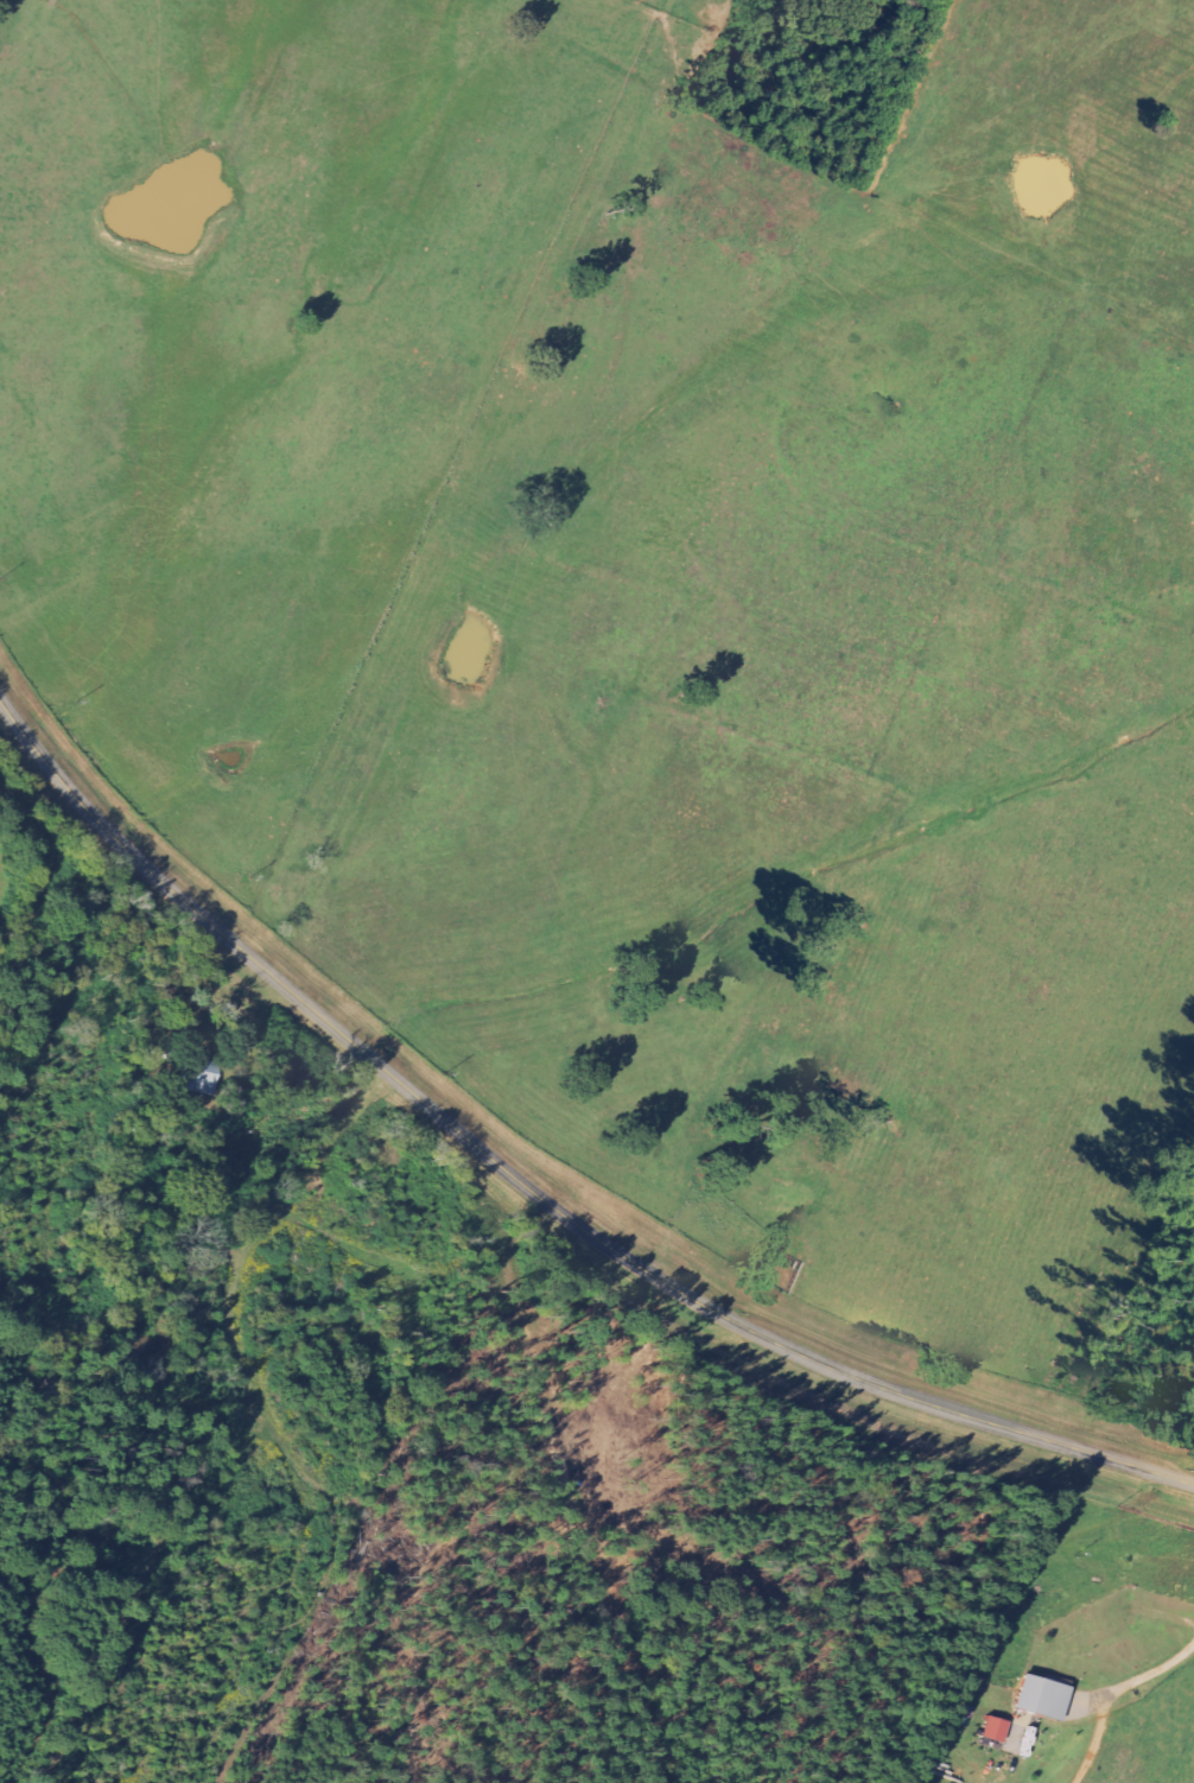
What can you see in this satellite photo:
building: (208, 1083)
road: (532, 1191)
building: (1048, 1698)
building: (1001, 1730)

